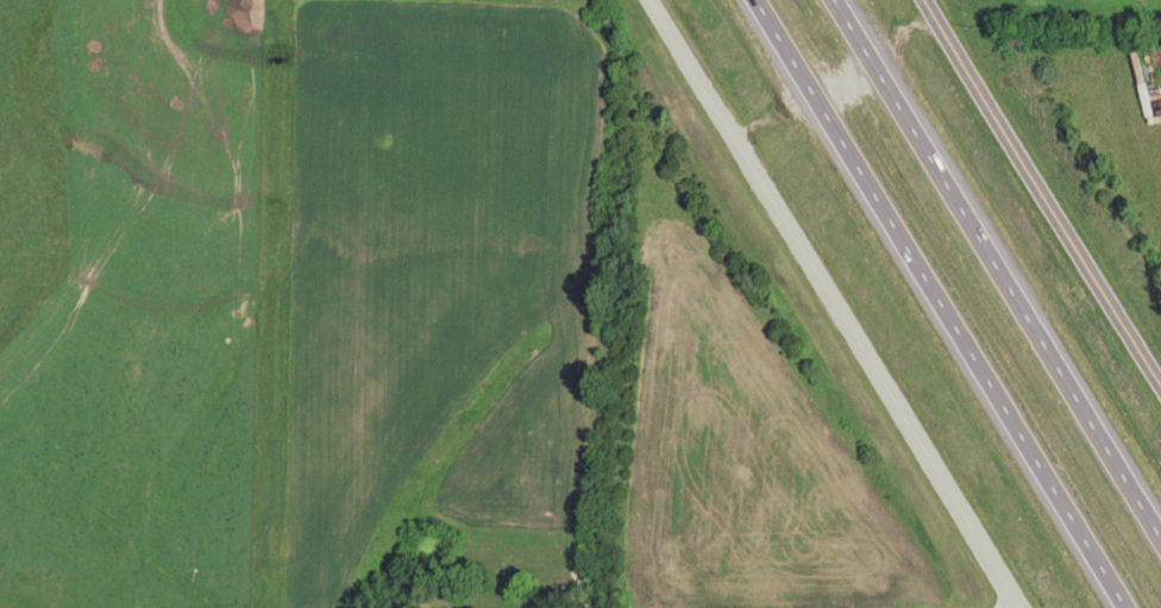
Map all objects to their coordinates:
road: (1041, 193)
road: (999, 265)
road: (833, 303)
road: (934, 303)
road: (980, 604)

